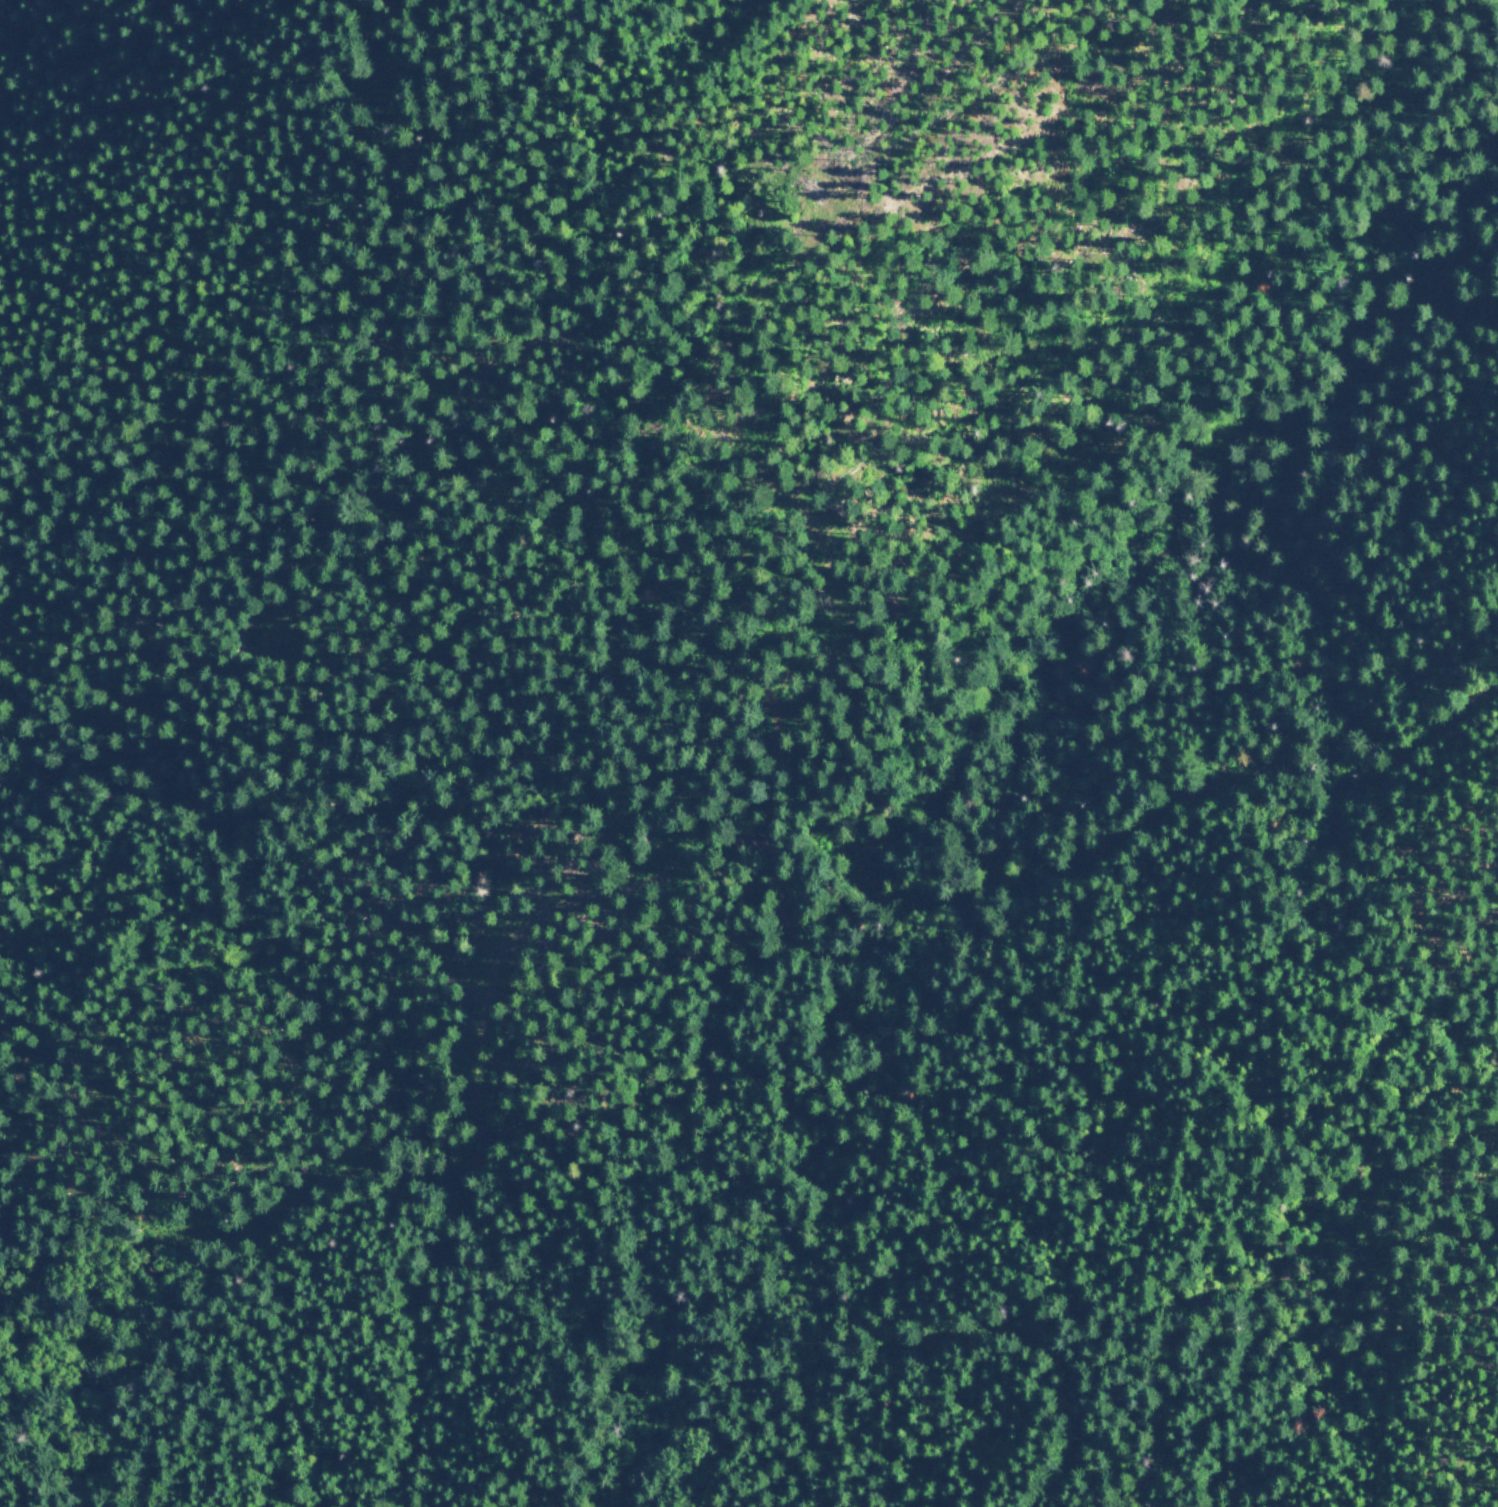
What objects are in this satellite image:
road: (677, 832)

